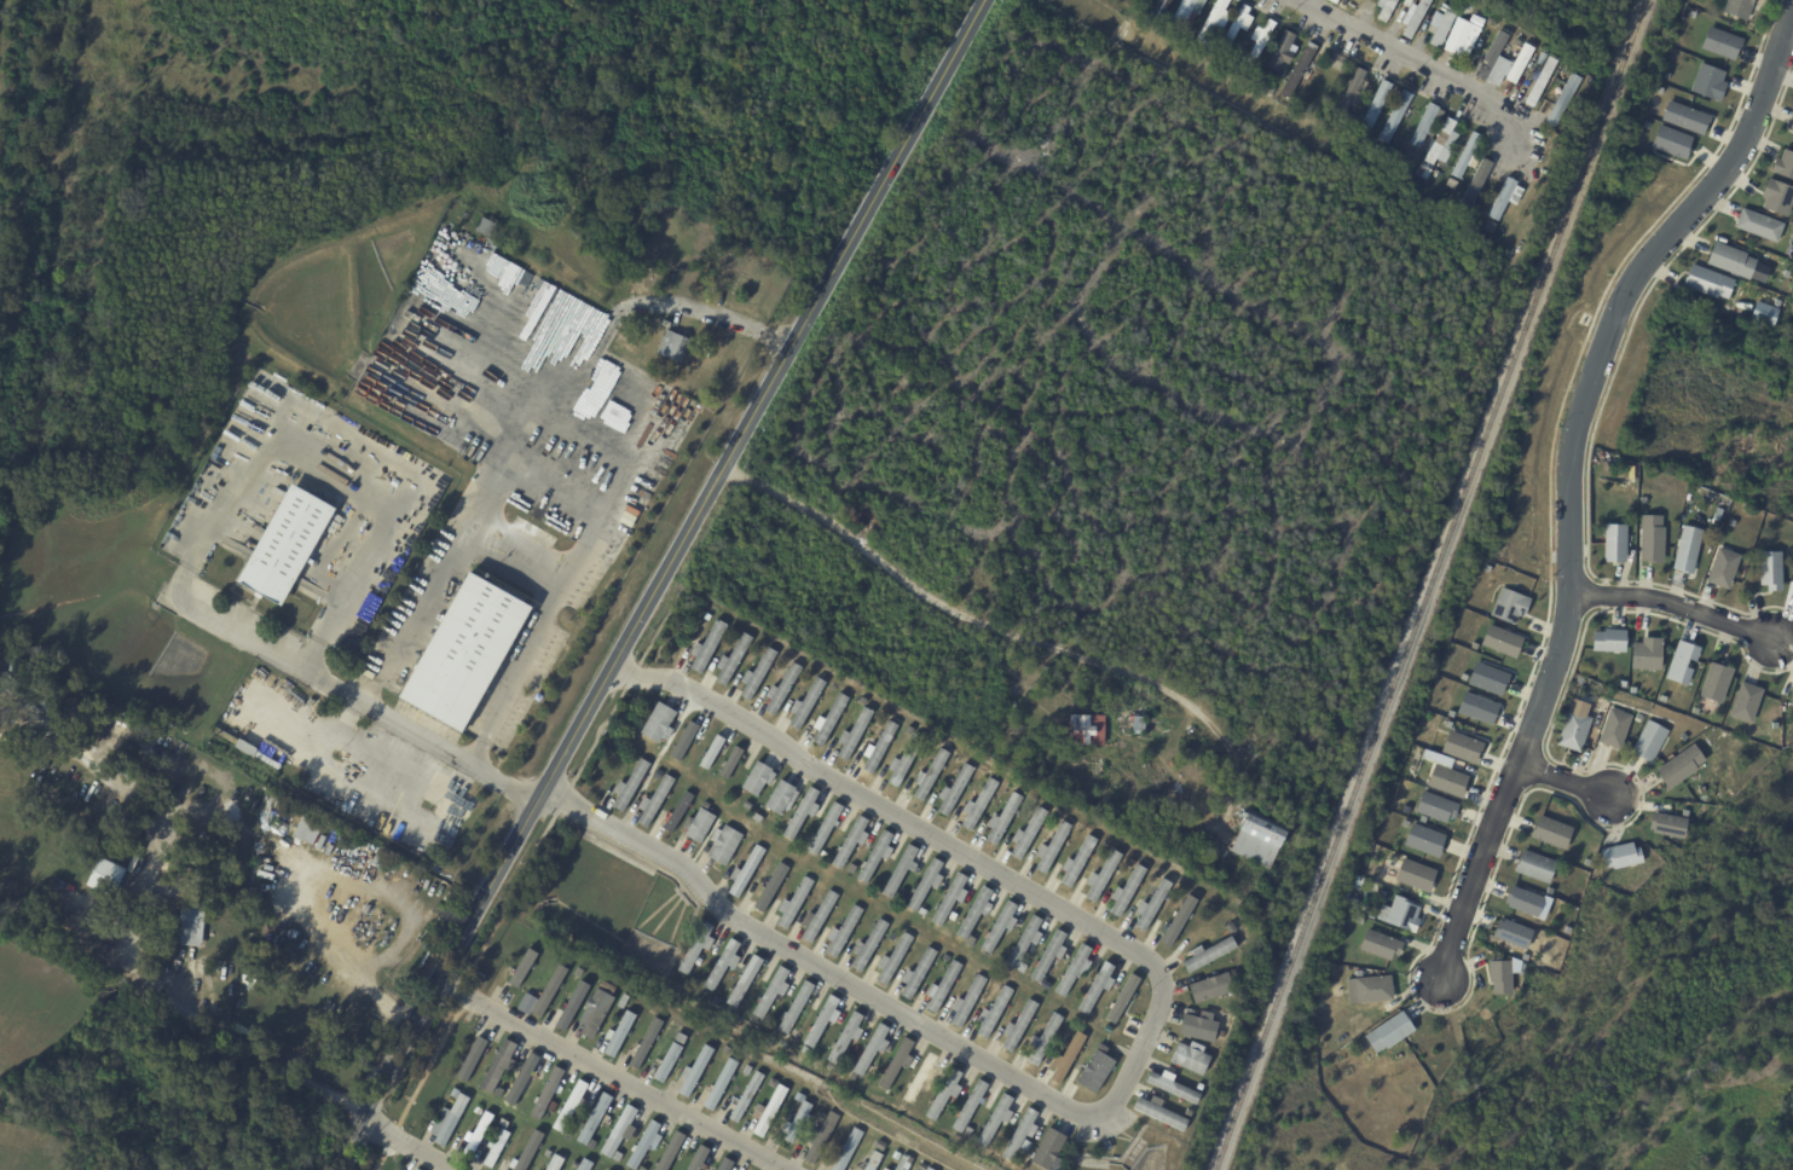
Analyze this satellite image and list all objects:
building: (1138, 0)
building: (1128, 1)
building: (1334, 1)
building: (1384, 8)
building: (1158, 10)
building: (1736, 10)
building: (1185, 13)
building: (1416, 17)
building: (1214, 21)
building: (1491, 22)
building: (1233, 28)
building: (1454, 28)
building: (1444, 31)
building: (1261, 40)
building: (1468, 41)
building: (1516, 42)
building: (1719, 42)
building: (1282, 51)
building: (1491, 54)
building: (1540, 58)
building: (1336, 62)
road: (1418, 63)
building: (1519, 64)
building: (1299, 69)
building: (1540, 80)
building: (1707, 81)
building: (1350, 92)
building: (1562, 100)
building: (1376, 108)
building: (1399, 109)
building: (1684, 117)
building: (1423, 124)
building: (1791, 126)
building: (1440, 140)
building: (1671, 141)
building: (1467, 155)
building: (1783, 163)
building: (1422, 172)
building: (1476, 185)
building: (1776, 197)
building: (1505, 198)
building: (1757, 224)
building: (490, 226)
building: (1705, 237)
building: (1730, 260)
building: (1707, 282)
building: (1777, 302)
building: (1763, 313)
road: (708, 315)
building: (503, 336)
building: (675, 346)
building: (627, 371)
road: (1568, 475)
building: (1717, 517)
building: (1650, 538)
building: (1615, 543)
building: (285, 548)
building: (1687, 549)
building: (1791, 551)
road: (510, 557)
building: (1722, 567)
building: (1770, 570)
road: (655, 585)
railway: (1419, 585)
building: (1792, 592)
building: (1508, 604)
road: (1675, 606)
road: (968, 624)
building: (1500, 641)
building: (1608, 642)
building: (706, 647)
building: (465, 651)
building: (1644, 653)
building: (731, 660)
building: (1681, 661)
building: (757, 674)
building: (1487, 678)
building: (1714, 682)
building: (1623, 684)
building: (781, 689)
building: (1791, 694)
building: (1743, 701)
road: (371, 705)
building: (805, 705)
building: (1601, 705)
building: (59, 706)
building: (1476, 707)
building: (829, 720)
building: (657, 723)
building: (1134, 724)
building: (1613, 728)
building: (1085, 729)
building: (1573, 731)
building: (854, 734)
building: (686, 740)
building: (1649, 742)
building: (1461, 746)
building: (879, 747)
building: (711, 751)
building: (259, 754)
building: (903, 760)
building: (729, 761)
building: (1679, 766)
building: (1445, 775)
building: (929, 776)
building: (757, 778)
building: (1168, 782)
road: (1566, 782)
building: (630, 786)
building: (954, 790)
building: (779, 797)
building: (655, 800)
building: (978, 804)
building: (1434, 806)
building: (678, 811)
building: (802, 813)
building: (1002, 821)
building: (1666, 823)
building: (699, 826)
building: (306, 829)
building: (823, 830)
building: (1550, 830)
building: (1093, 833)
building: (1029, 834)
building: (1423, 839)
building: (850, 842)
building: (1255, 842)
building: (723, 846)
building: (1051, 848)
building: (1619, 855)
building: (875, 857)
building: (1076, 865)
building: (1534, 867)
building: (850, 868)
building: (185, 870)
building: (745, 871)
building: (900, 871)
building: (1158, 873)
building: (109, 874)
building: (1415, 874)
building: (1104, 876)
building: (925, 886)
building: (767, 888)
building: (1127, 891)
building: (1381, 894)
building: (900, 897)
building: (1522, 899)
building: (950, 900)
building: (794, 903)
building: (1151, 905)
building: (974, 914)
building: (1402, 915)
building: (819, 916)
building: (1176, 917)
building: (191, 926)
building: (947, 928)
building: (999, 928)
building: (843, 932)
building: (1511, 933)
building: (972, 938)
building: (1025, 942)
building: (1378, 944)
building: (869, 945)
building: (695, 948)
building: (537, 951)
building: (1207, 955)
building: (1047, 956)
building: (893, 958)
building: (722, 965)
building: (1072, 971)
building: (543, 972)
building: (916, 973)
building: (521, 975)
building: (1499, 977)
building: (473, 978)
building: (746, 979)
building: (942, 986)
building: (548, 987)
building: (607, 987)
building: (1095, 987)
building: (287, 989)
building: (1210, 989)
building: (1367, 989)
building: (771, 992)
building: (1123, 997)
building: (621, 1000)
building: (966, 1001)
building: (526, 1002)
building: (572, 1004)
building: (794, 1007)
park: (35, 1008)
building: (728, 1009)
building: (650, 1012)
building: (994, 1012)
building: (594, 1013)
building: (751, 1018)
building: (821, 1020)
building: (1017, 1026)
building: (1129, 1026)
building: (1198, 1027)
building: (619, 1032)
road: (220, 1033)
building: (1220, 1033)
building: (1388, 1033)
building: (679, 1037)
building: (845, 1037)
building: (1043, 1039)
building: (598, 1043)
building: (642, 1048)
building: (802, 1048)
building: (1101, 1048)
building: (872, 1049)
road: (1135, 1054)
building: (472, 1058)
building: (1069, 1059)
building: (1188, 1059)
building: (669, 1062)
building: (897, 1062)
building: (497, 1066)
building: (695, 1071)
building: (1094, 1072)
road: (612, 1075)
building: (920, 1077)
building: (522, 1081)
building: (721, 1084)
building: (1173, 1087)
building: (559, 1091)
building: (451, 1093)
building: (545, 1094)
building: (590, 1094)
building: (943, 1094)
park: (1540, 1094)
building: (746, 1097)
building: (583, 1104)
building: (971, 1105)
building: (569, 1107)
building: (475, 1110)
building: (769, 1111)
building: (901, 1111)
building: (1188, 1112)
building: (1158, 1113)
building: (821, 1114)
building: (445, 1119)
building: (594, 1119)
building: (995, 1119)
building: (797, 1125)
building: (966, 1131)
building: (665, 1133)
building: (475, 1134)
building: (619, 1134)
building: (1020, 1134)
building: (822, 1139)
road: (409, 1143)
park: (31, 1145)
building: (591, 1145)
building: (646, 1145)
building: (1106, 1145)
building: (881, 1146)
building: (494, 1147)
building: (517, 1148)
building: (526, 1149)
building: (850, 1149)
building: (1046, 1149)
building: (545, 1153)
building: (673, 1153)
building: (699, 1159)
building: (618, 1160)
building: (875, 1160)
building: (555, 1163)
building: (906, 1163)
building: (573, 1164)
building: (727, 1164)
building: (585, 1165)
building: (922, 1166)
building: (415, 1169)
building: (640, 1169)
building: (886, 1169)
building: (932, 1169)

